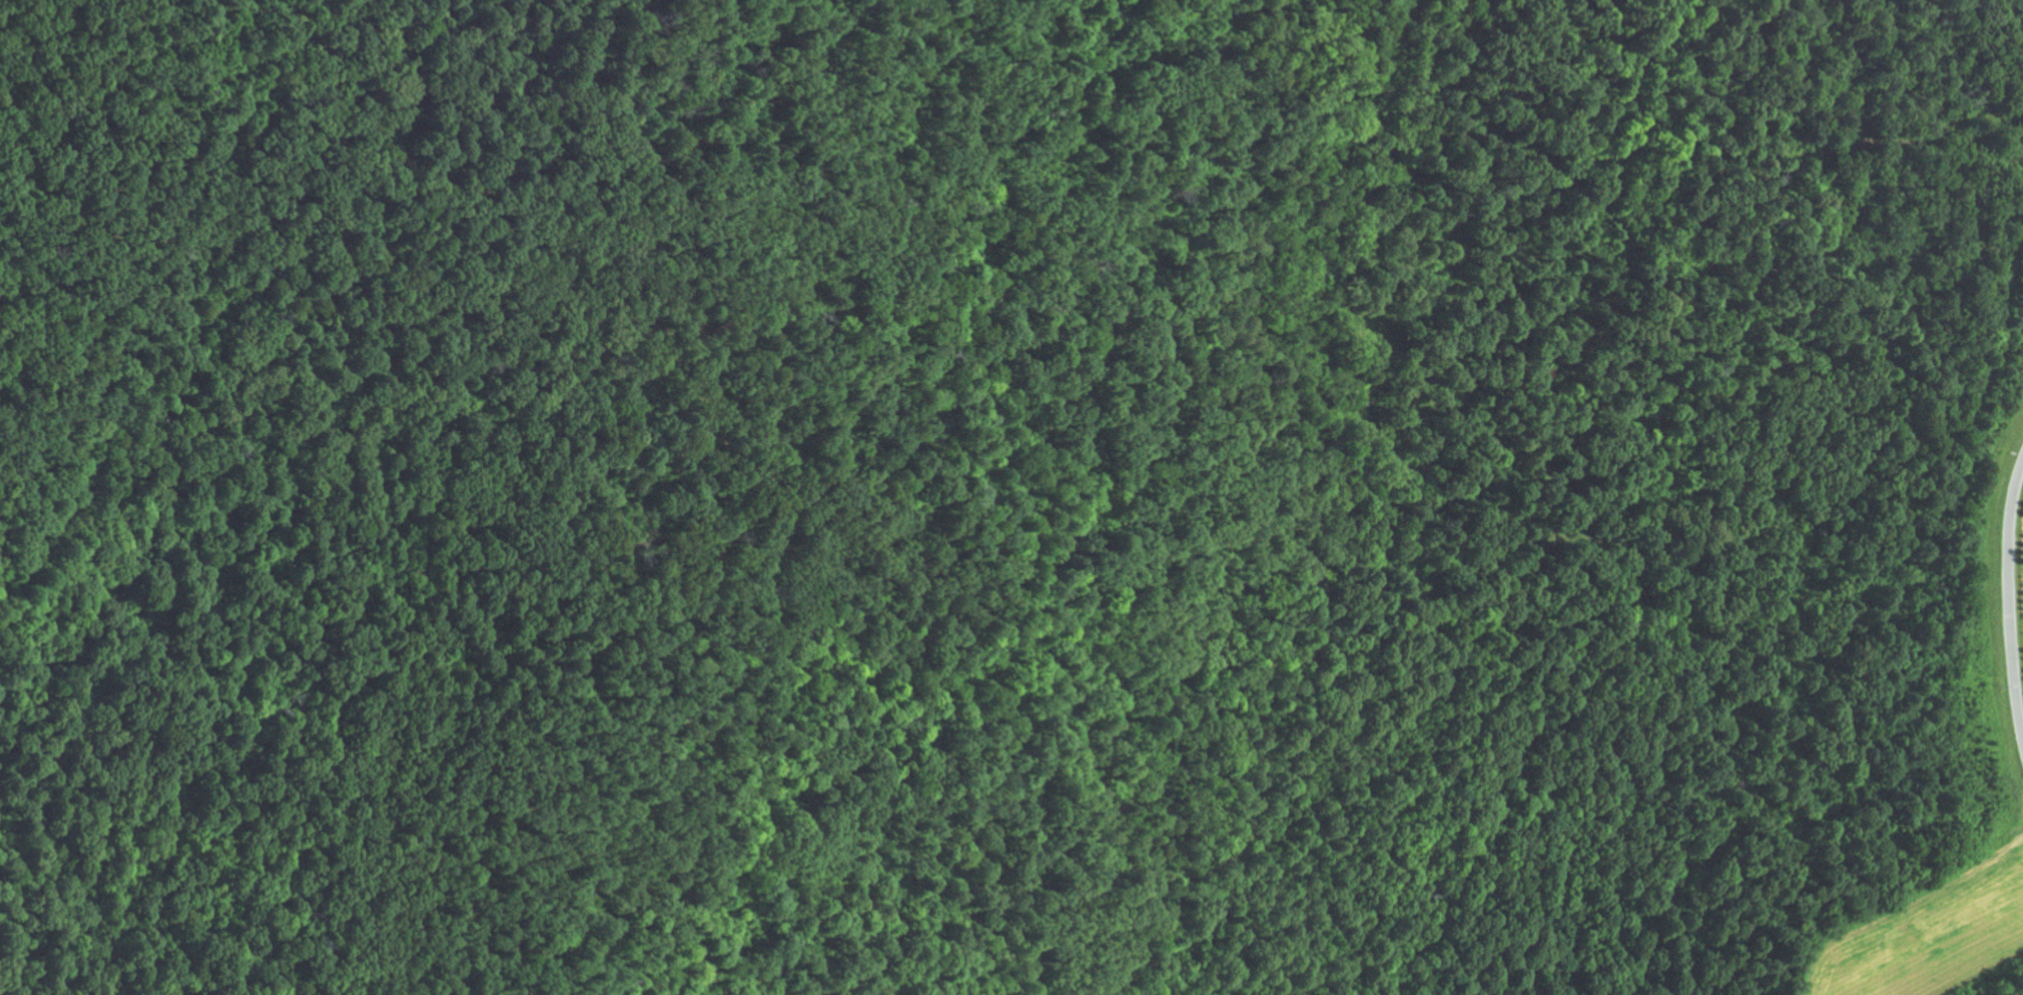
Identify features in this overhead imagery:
road: (2006, 601)

